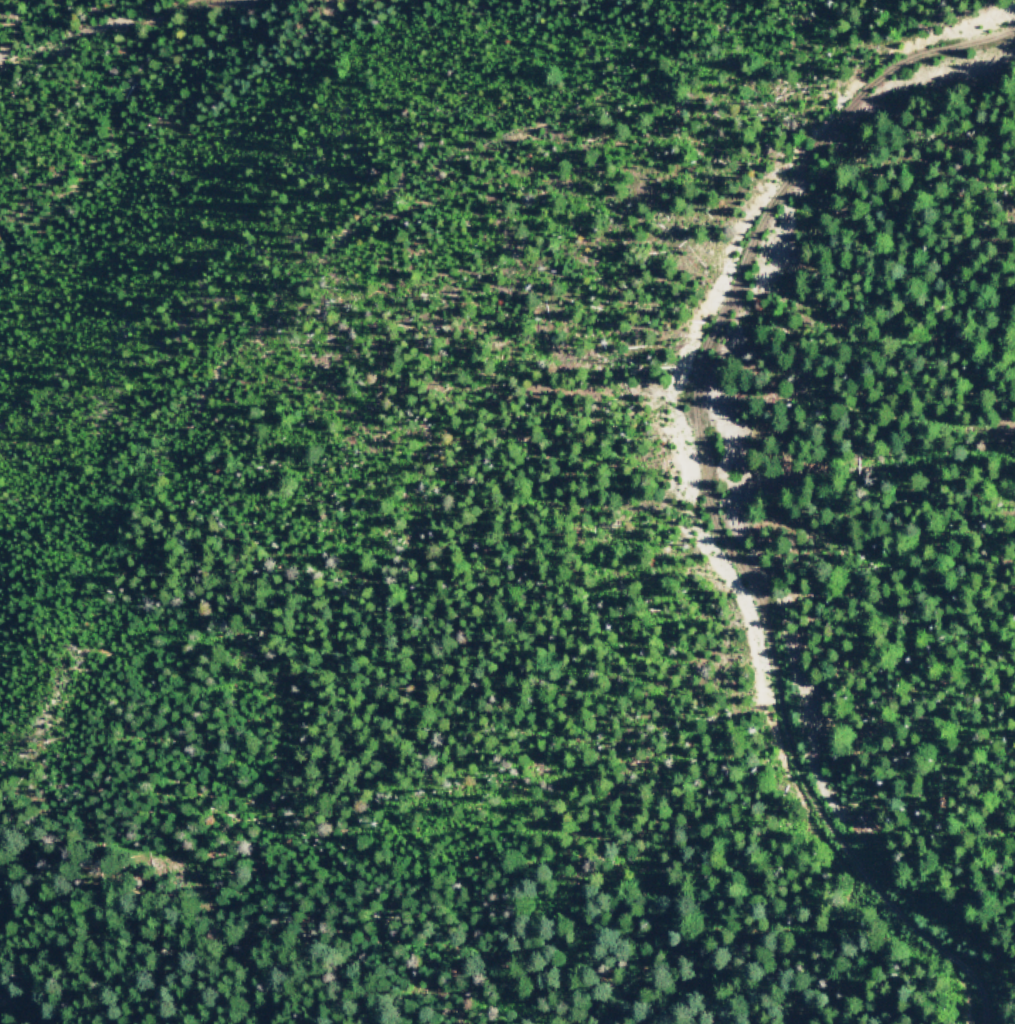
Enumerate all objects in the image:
road: (697, 466)

